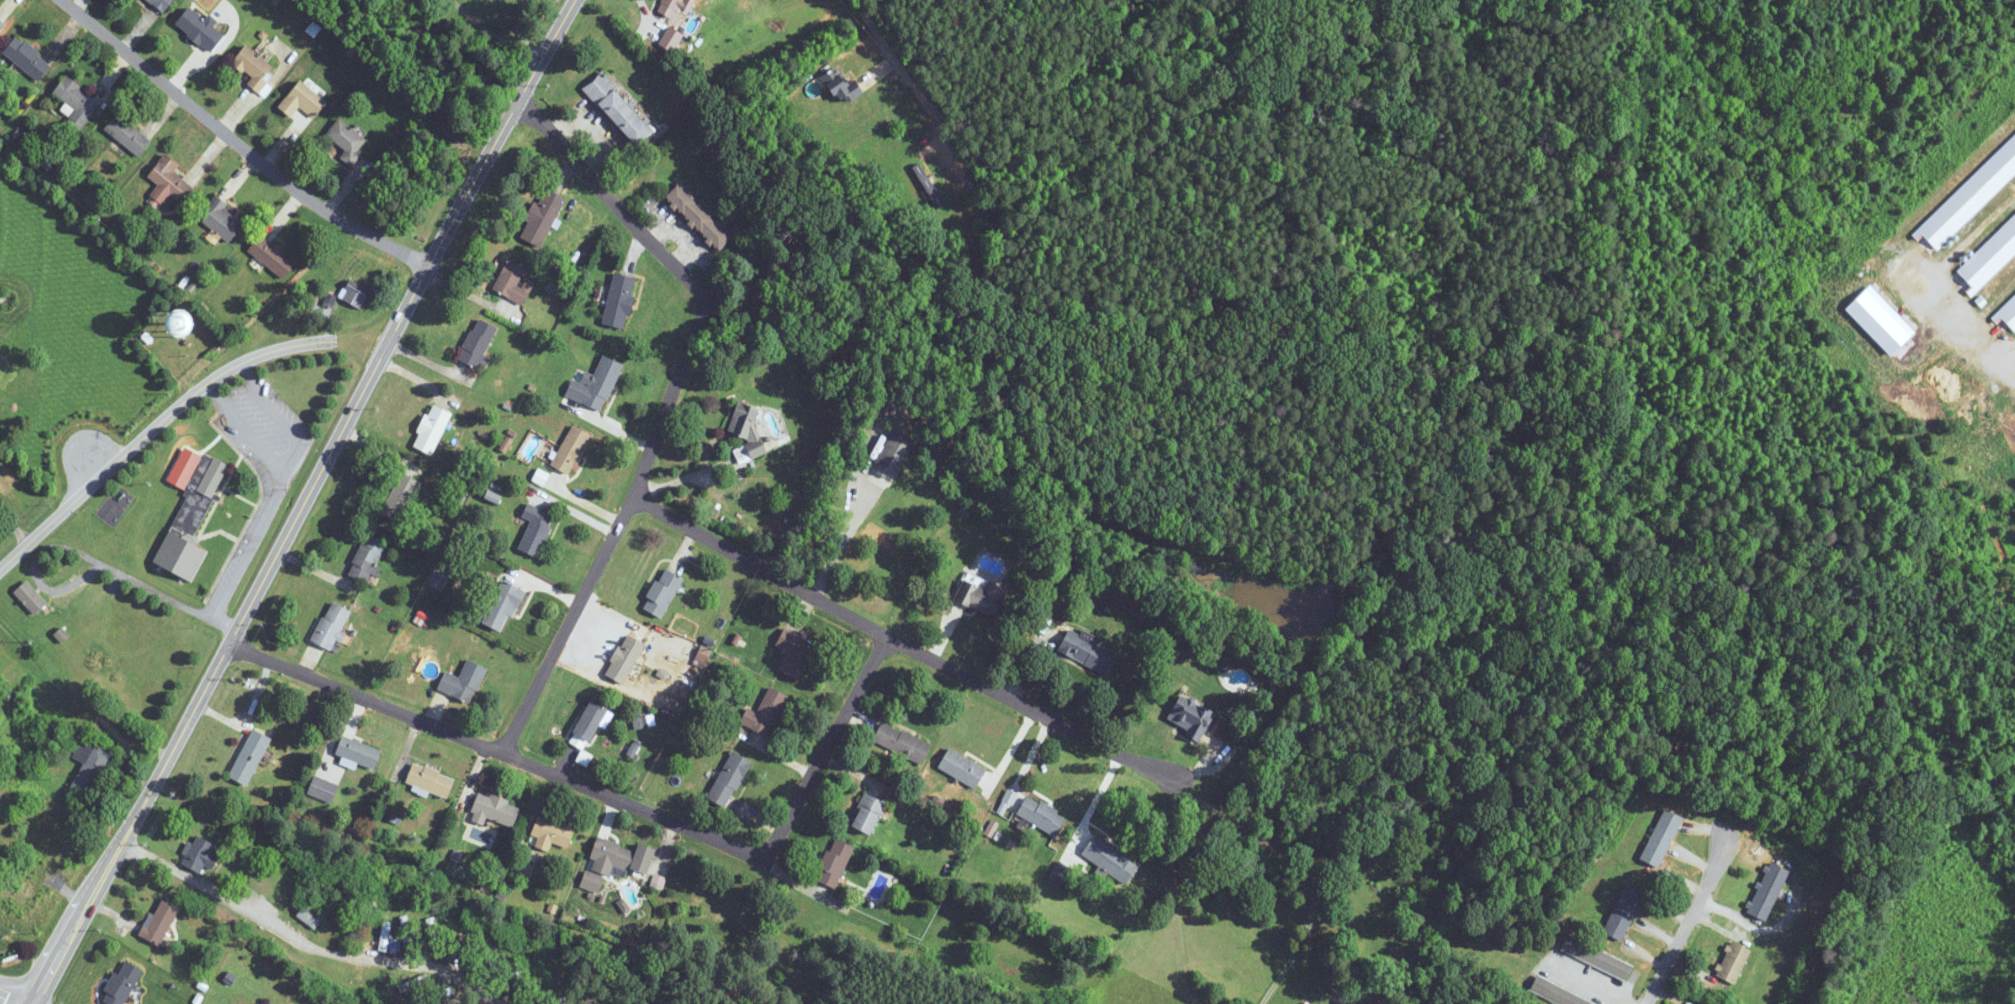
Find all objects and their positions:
building: (673, 3)
building: (162, 4)
road: (647, 16)
building: (1, 26)
road: (485, 27)
building: (201, 29)
road: (522, 34)
building: (672, 40)
building: (28, 59)
building: (254, 67)
building: (842, 85)
road: (914, 85)
building: (304, 101)
building: (77, 102)
building: (619, 110)
building: (127, 135)
building: (348, 140)
road: (237, 142)
building: (169, 181)
building: (927, 185)
building: (543, 217)
building: (699, 217)
building: (223, 220)
building: (272, 256)
building: (514, 283)
building: (356, 293)
road: (3, 299)
building: (620, 301)
water tower: (179, 328)
building: (478, 343)
building: (594, 385)
road: (671, 405)
road: (285, 423)
building: (744, 423)
road: (154, 430)
building: (432, 430)
road: (249, 433)
building: (569, 450)
building: (892, 454)
building: (400, 496)
road: (302, 502)
building: (192, 518)
building: (534, 529)
road: (844, 541)
road: (247, 553)
building: (368, 558)
road: (93, 569)
building: (660, 593)
building: (980, 595)
building: (30, 597)
building: (500, 603)
building: (332, 625)
building: (1085, 650)
building: (793, 652)
building: (4, 655)
building: (623, 658)
road: (966, 673)
building: (464, 681)
building: (766, 712)
building: (1189, 716)
building: (640, 720)
building: (589, 721)
building: (900, 742)
building: (1673, 744)
road: (828, 749)
road: (498, 750)
building: (359, 751)
building: (250, 756)
building: (88, 766)
building: (960, 768)
building: (431, 779)
building: (727, 779)
building: (323, 788)
road: (1099, 794)
building: (494, 810)
building: (866, 814)
building: (1040, 815)
building: (551, 833)
building: (1661, 838)
building: (200, 854)
building: (1107, 859)
building: (615, 863)
building: (833, 864)
building: (525, 869)
building: (1059, 875)
building: (29, 885)
building: (1766, 891)
road: (1697, 901)
building: (1623, 911)
road: (111, 913)
building: (311, 917)
building: (160, 921)
road: (1750, 926)
building: (405, 932)
building: (433, 934)
building: (384, 936)
road: (302, 944)
building: (1596, 957)
building: (1732, 963)
road: (1591, 981)
building: (413, 983)
building: (122, 984)
building: (1556, 992)
building: (445, 993)
road: (14, 997)
road: (30, 1003)
building: (468, 1003)

